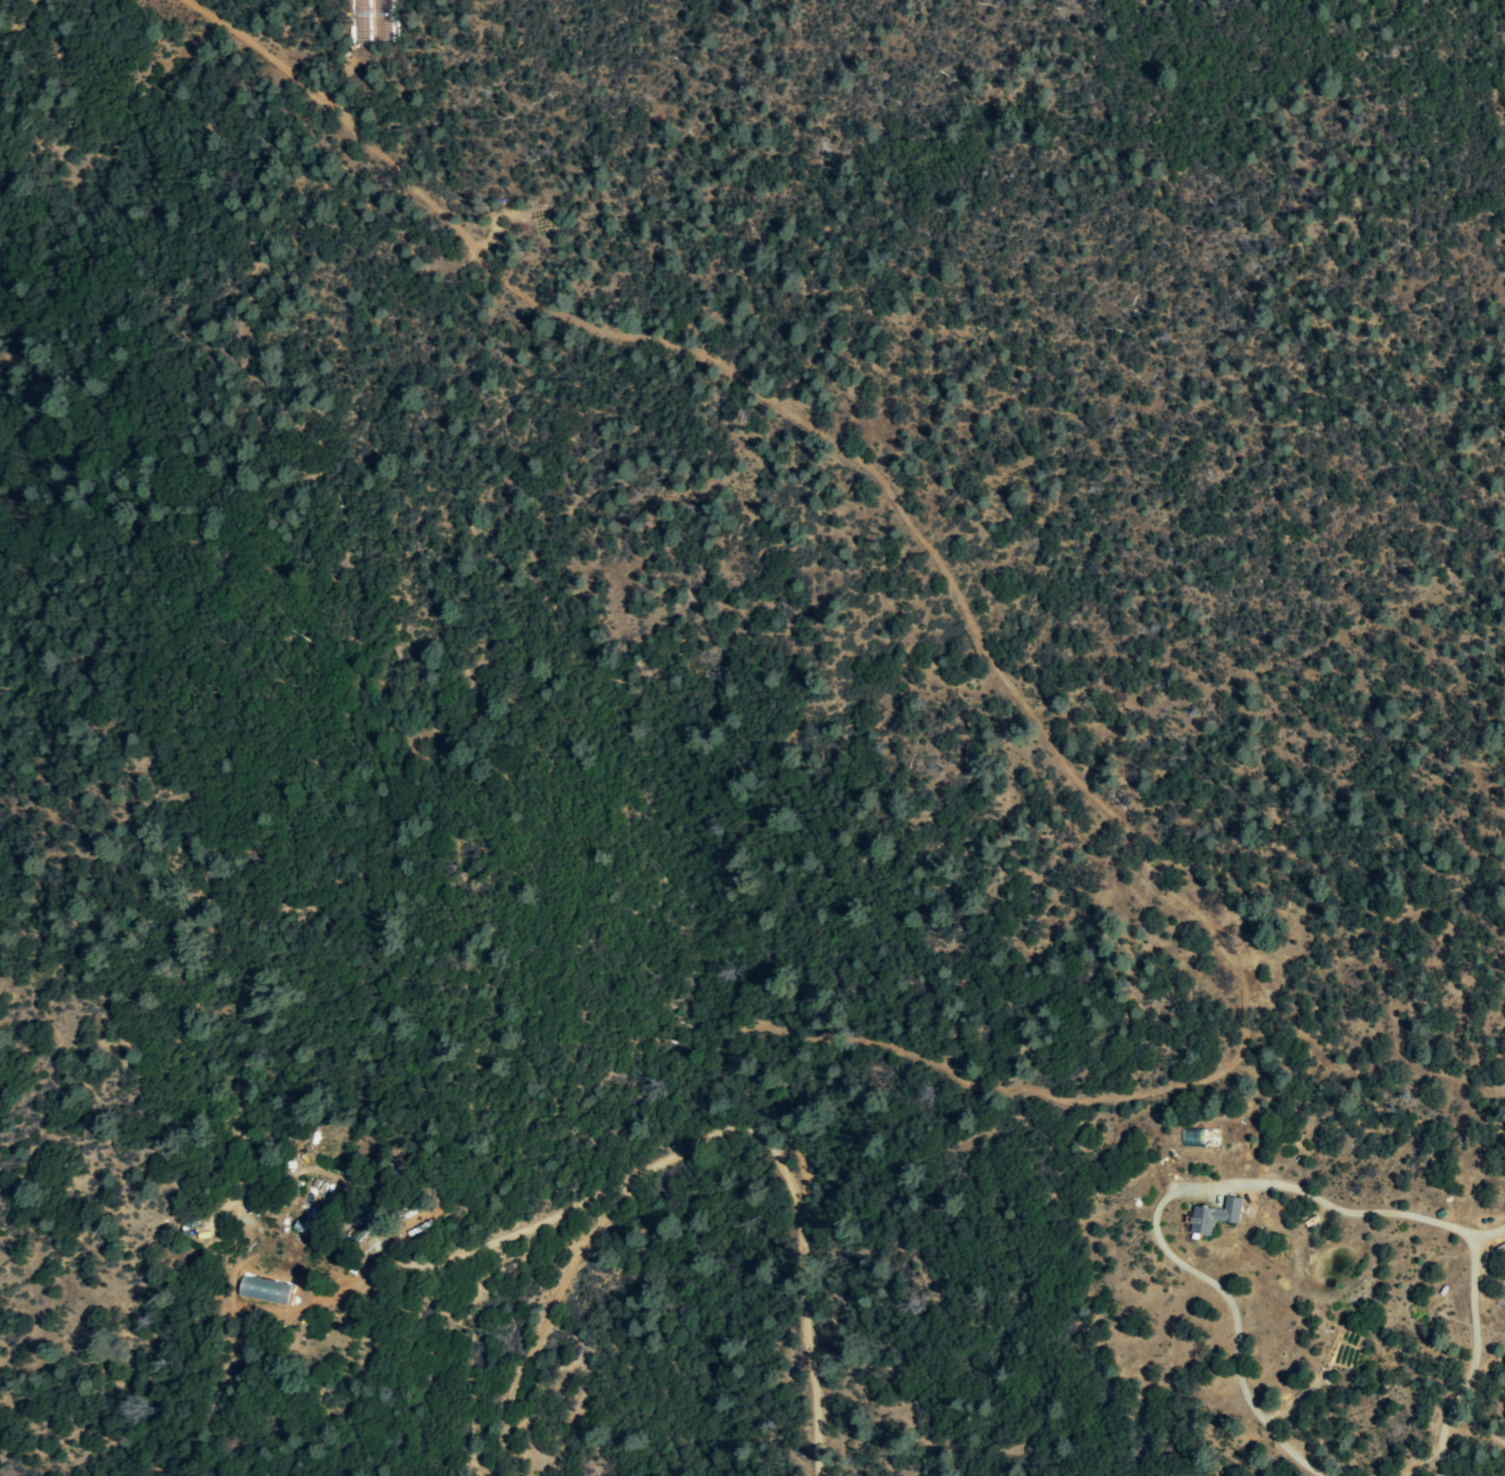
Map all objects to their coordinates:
building: (1199, 1137)
road: (686, 1145)
road: (1158, 1206)
building: (1215, 1216)
building: (359, 1231)
road: (1474, 1364)
road: (1422, 1462)

